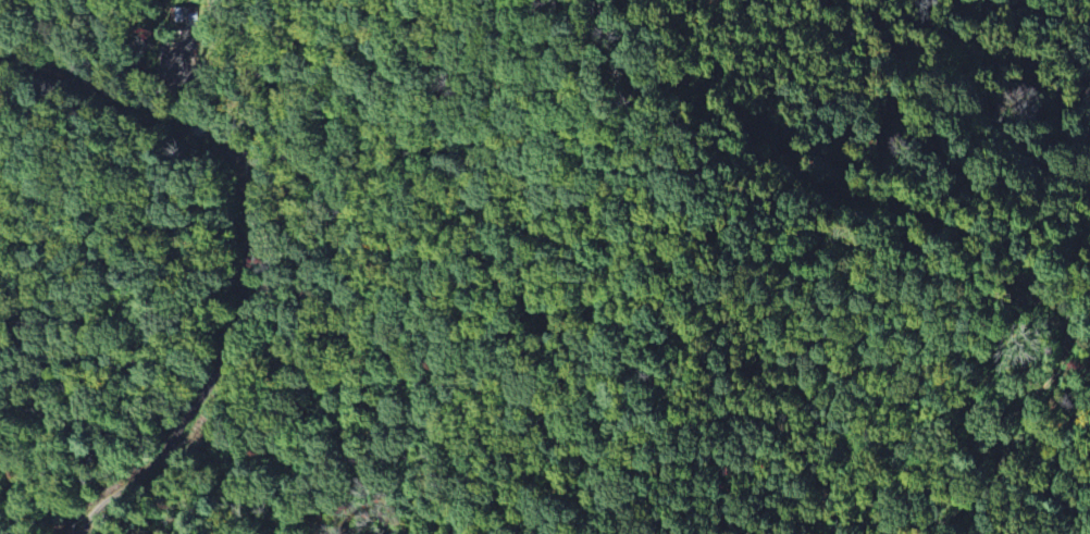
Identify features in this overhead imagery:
road: (36, 30)
road: (244, 296)

